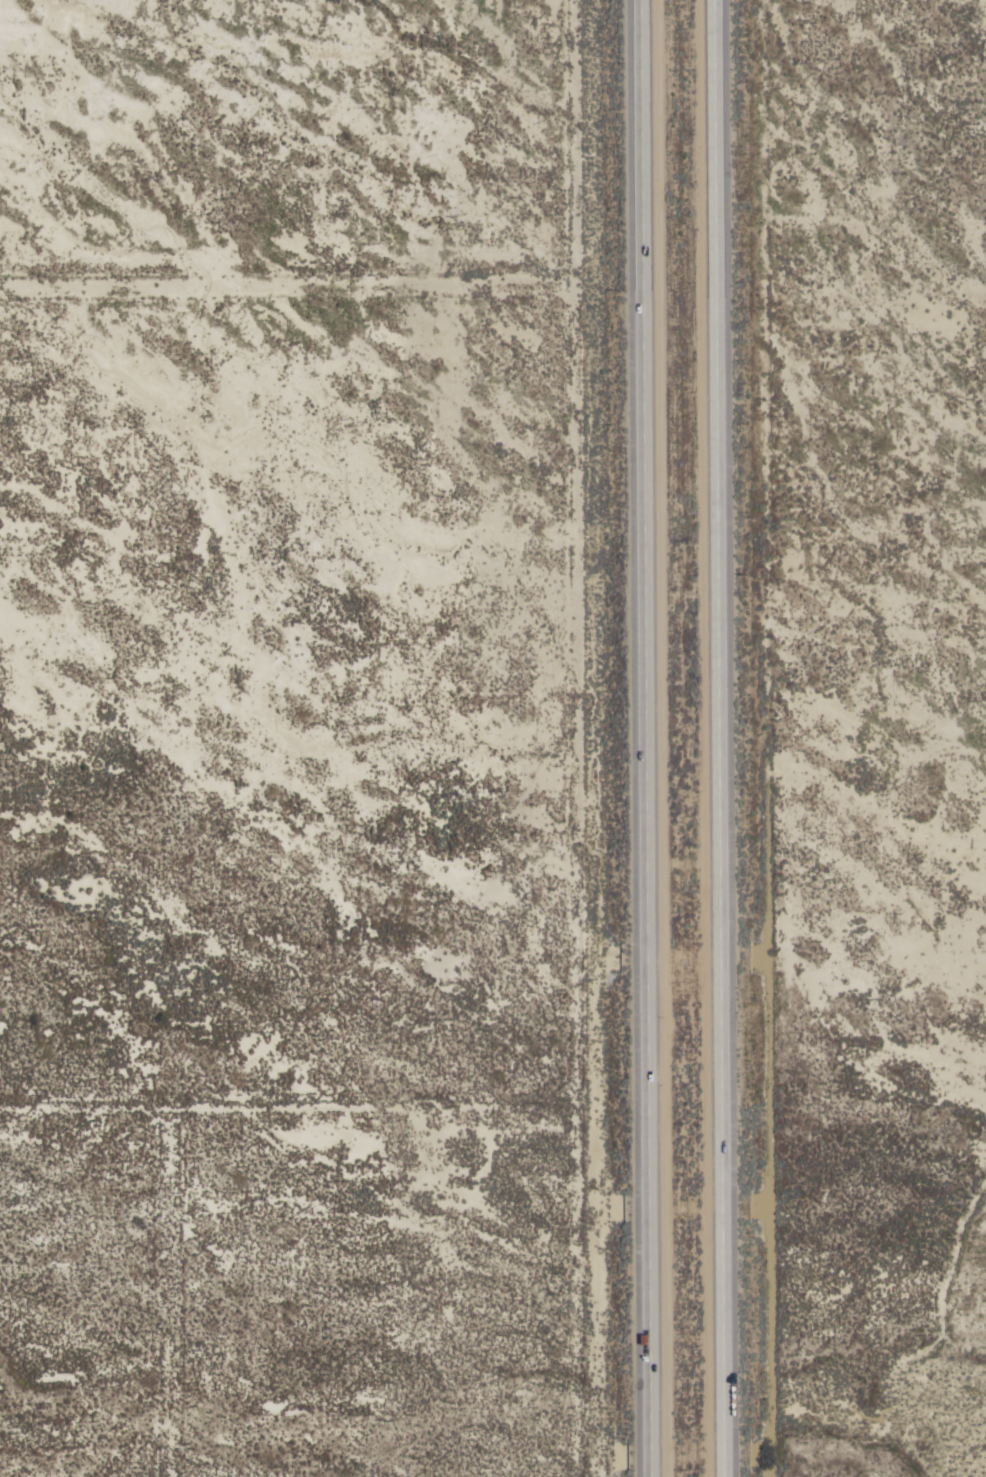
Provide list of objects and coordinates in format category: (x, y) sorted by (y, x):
railway: (802, 33)
railway: (792, 36)
railway: (904, 198)
railway: (900, 209)
road: (645, 738)
road: (719, 738)

